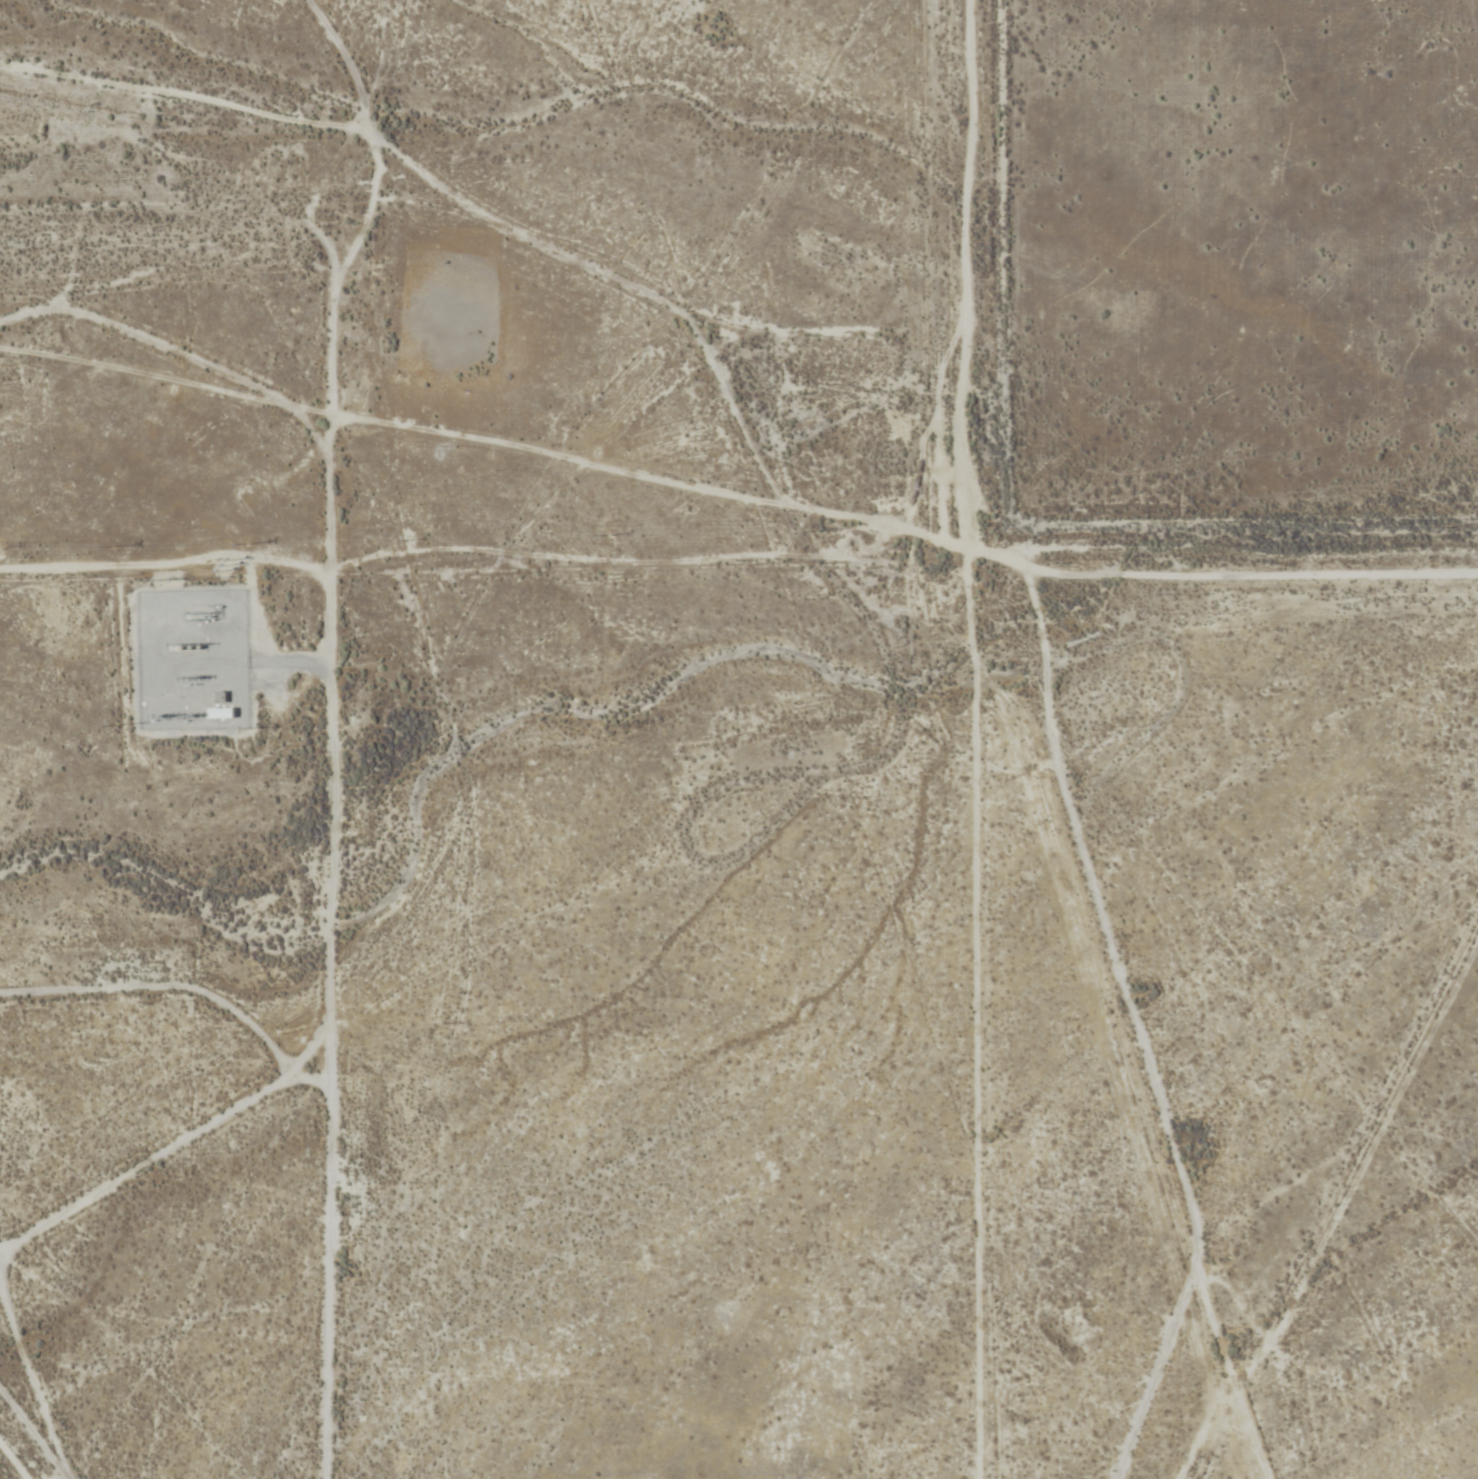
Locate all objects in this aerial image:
road: (625, 340)
road: (166, 565)
road: (330, 778)
road: (34, 1372)
road: (1197, 1437)

